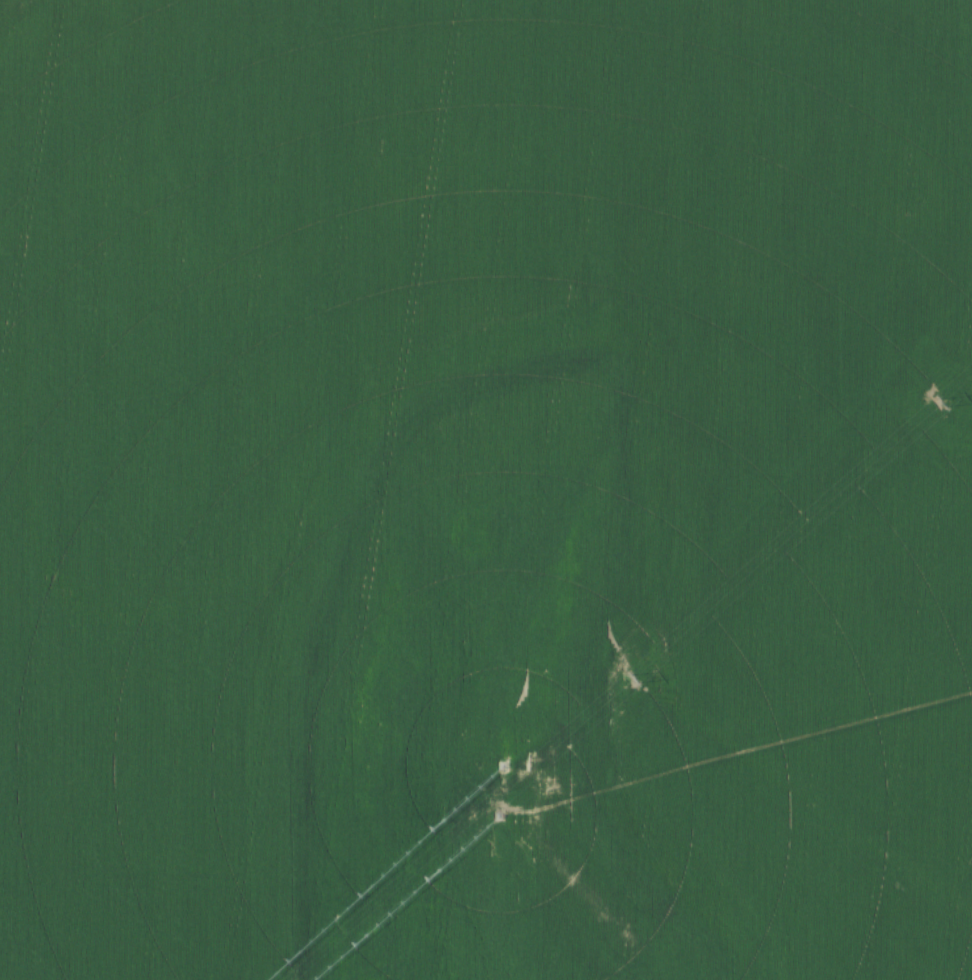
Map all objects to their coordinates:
power tower: (939, 404)
power tower: (631, 680)

